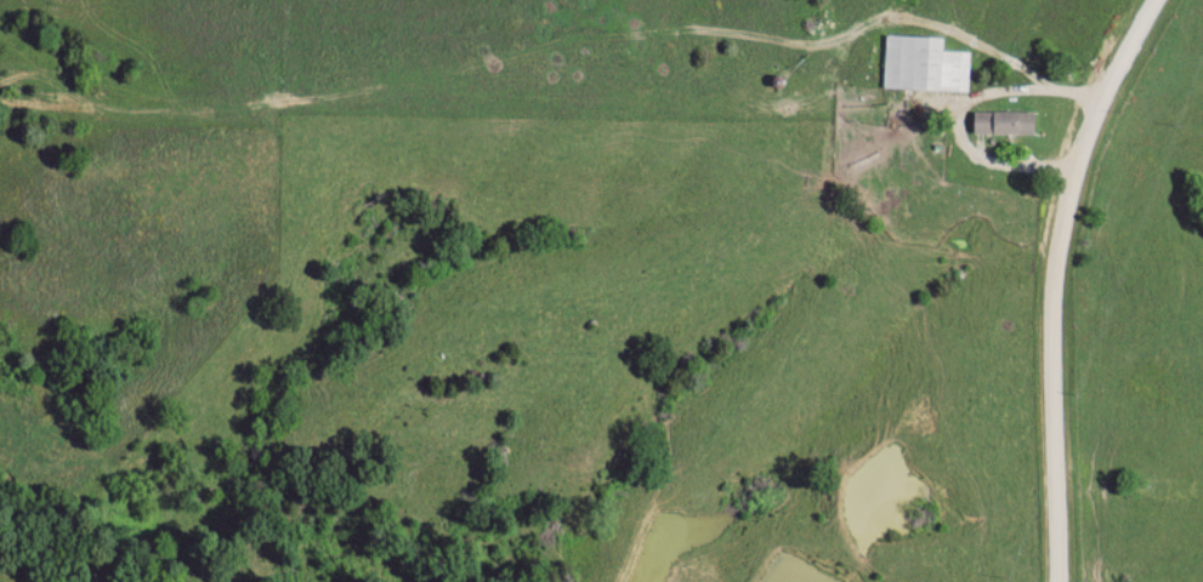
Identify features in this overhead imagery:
building: (932, 65)
building: (1008, 124)
road: (1057, 281)

